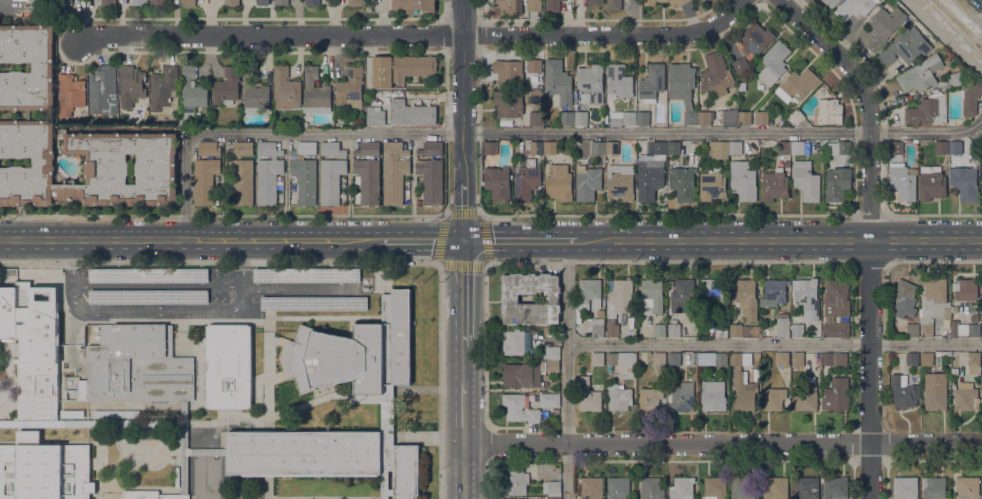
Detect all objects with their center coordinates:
building: (595, 1)
building: (65, 2)
building: (108, 2)
building: (139, 2)
building: (231, 2)
building: (262, 2)
building: (281, 2)
building: (311, 2)
building: (355, 2)
building: (657, 2)
building: (831, 2)
building: (157, 3)
building: (188, 3)
building: (680, 3)
building: (533, 5)
building: (552, 5)
building: (614, 5)
building: (412, 6)
building: (507, 6)
building: (855, 8)
road: (970, 11)
building: (881, 28)
road: (419, 35)
road: (944, 37)
building: (754, 40)
building: (906, 47)
building: (773, 63)
building: (740, 65)
building: (42, 67)
building: (400, 69)
building: (515, 71)
building: (921, 74)
building: (716, 75)
building: (959, 79)
building: (619, 81)
building: (652, 82)
building: (557, 83)
building: (590, 84)
building: (131, 85)
building: (797, 85)
building: (760, 86)
building: (226, 87)
building: (350, 88)
building: (683, 88)
building: (285, 89)
road: (462, 89)
building: (164, 90)
building: (102, 91)
building: (254, 91)
building: (316, 92)
building: (69, 94)
building: (971, 98)
building: (192, 99)
building: (508, 103)
building: (928, 111)
building: (828, 112)
building: (411, 113)
building: (28, 114)
building: (375, 115)
building: (536, 117)
building: (629, 117)
building: (705, 117)
building: (728, 117)
building: (761, 117)
building: (567, 118)
building: (580, 118)
building: (642, 118)
building: (744, 118)
building: (796, 118)
building: (615, 121)
road: (536, 133)
building: (979, 140)
building: (550, 147)
building: (598, 147)
building: (611, 147)
building: (673, 147)
building: (735, 147)
building: (783, 147)
building: (797, 147)
building: (896, 147)
building: (941, 147)
building: (955, 147)
building: (208, 148)
building: (331, 148)
building: (431, 148)
building: (491, 148)
building: (534, 148)
building: (241, 149)
building: (304, 149)
building: (367, 149)
building: (718, 150)
building: (840, 151)
building: (787, 163)
building: (87, 166)
building: (650, 171)
building: (268, 172)
building: (394, 172)
building: (205, 180)
building: (241, 180)
building: (304, 180)
building: (331, 180)
building: (431, 180)
building: (526, 181)
building: (684, 181)
building: (743, 181)
building: (806, 181)
building: (903, 181)
building: (367, 182)
building: (620, 182)
building: (964, 182)
building: (497, 183)
building: (587, 183)
building: (837, 183)
building: (932, 183)
building: (558, 184)
building: (712, 185)
building: (774, 185)
building: (981, 188)
road: (463, 209)
road: (482, 220)
road: (869, 231)
road: (188, 240)
road: (420, 240)
traffic signals: (464, 240)
road: (520, 240)
road: (676, 240)
road: (822, 240)
road: (916, 241)
road: (972, 242)
road: (336, 262)
building: (148, 274)
building: (307, 275)
road: (158, 284)
road: (299, 285)
building: (683, 290)
building: (967, 290)
building: (713, 291)
road: (464, 292)
building: (774, 292)
building: (905, 293)
building: (589, 294)
building: (148, 296)
building: (651, 296)
building: (620, 297)
building: (510, 298)
building: (747, 298)
building: (807, 298)
building: (836, 299)
building: (314, 303)
building: (934, 304)
road: (159, 308)
building: (973, 310)
building: (600, 313)
building: (782, 325)
building: (598, 327)
building: (612, 327)
building: (836, 329)
building: (965, 329)
building: (981, 329)
building: (658, 330)
building: (674, 330)
building: (721, 330)
building: (736, 330)
building: (797, 330)
building: (912, 330)
building: (748, 331)
building: (632, 335)
building: (514, 342)
road: (774, 343)
building: (33, 345)
road: (486, 345)
building: (356, 351)
building: (550, 352)
building: (942, 354)
building: (721, 358)
building: (783, 358)
building: (797, 358)
building: (834, 358)
building: (912, 358)
building: (927, 358)
building: (598, 359)
building: (621, 359)
building: (659, 359)
building: (673, 359)
building: (740, 359)
building: (638, 360)
building: (818, 360)
building: (974, 363)
road: (464, 364)
building: (137, 365)
building: (228, 365)
building: (552, 366)
road: (567, 369)
building: (517, 375)
building: (684, 375)
building: (744, 389)
building: (935, 391)
building: (903, 392)
building: (588, 395)
building: (713, 395)
building: (836, 395)
building: (682, 396)
building: (807, 396)
building: (619, 397)
building: (966, 397)
building: (650, 398)
building: (773, 398)
building: (550, 400)
building: (387, 404)
building: (519, 409)
road: (464, 412)
building: (115, 413)
building: (4, 422)
road: (722, 442)
building: (184, 443)
road: (486, 443)
building: (328, 456)
building: (44, 469)
road: (464, 470)
road: (486, 480)
building: (514, 481)
building: (552, 487)
building: (715, 487)
building: (742, 487)
building: (905, 487)
building: (933, 487)
building: (968, 487)
building: (591, 488)
building: (618, 488)
building: (651, 488)
building: (681, 488)
building: (776, 488)
building: (806, 488)
building: (835, 488)
building: (150, 495)
building: (514, 498)
building: (554, 498)

